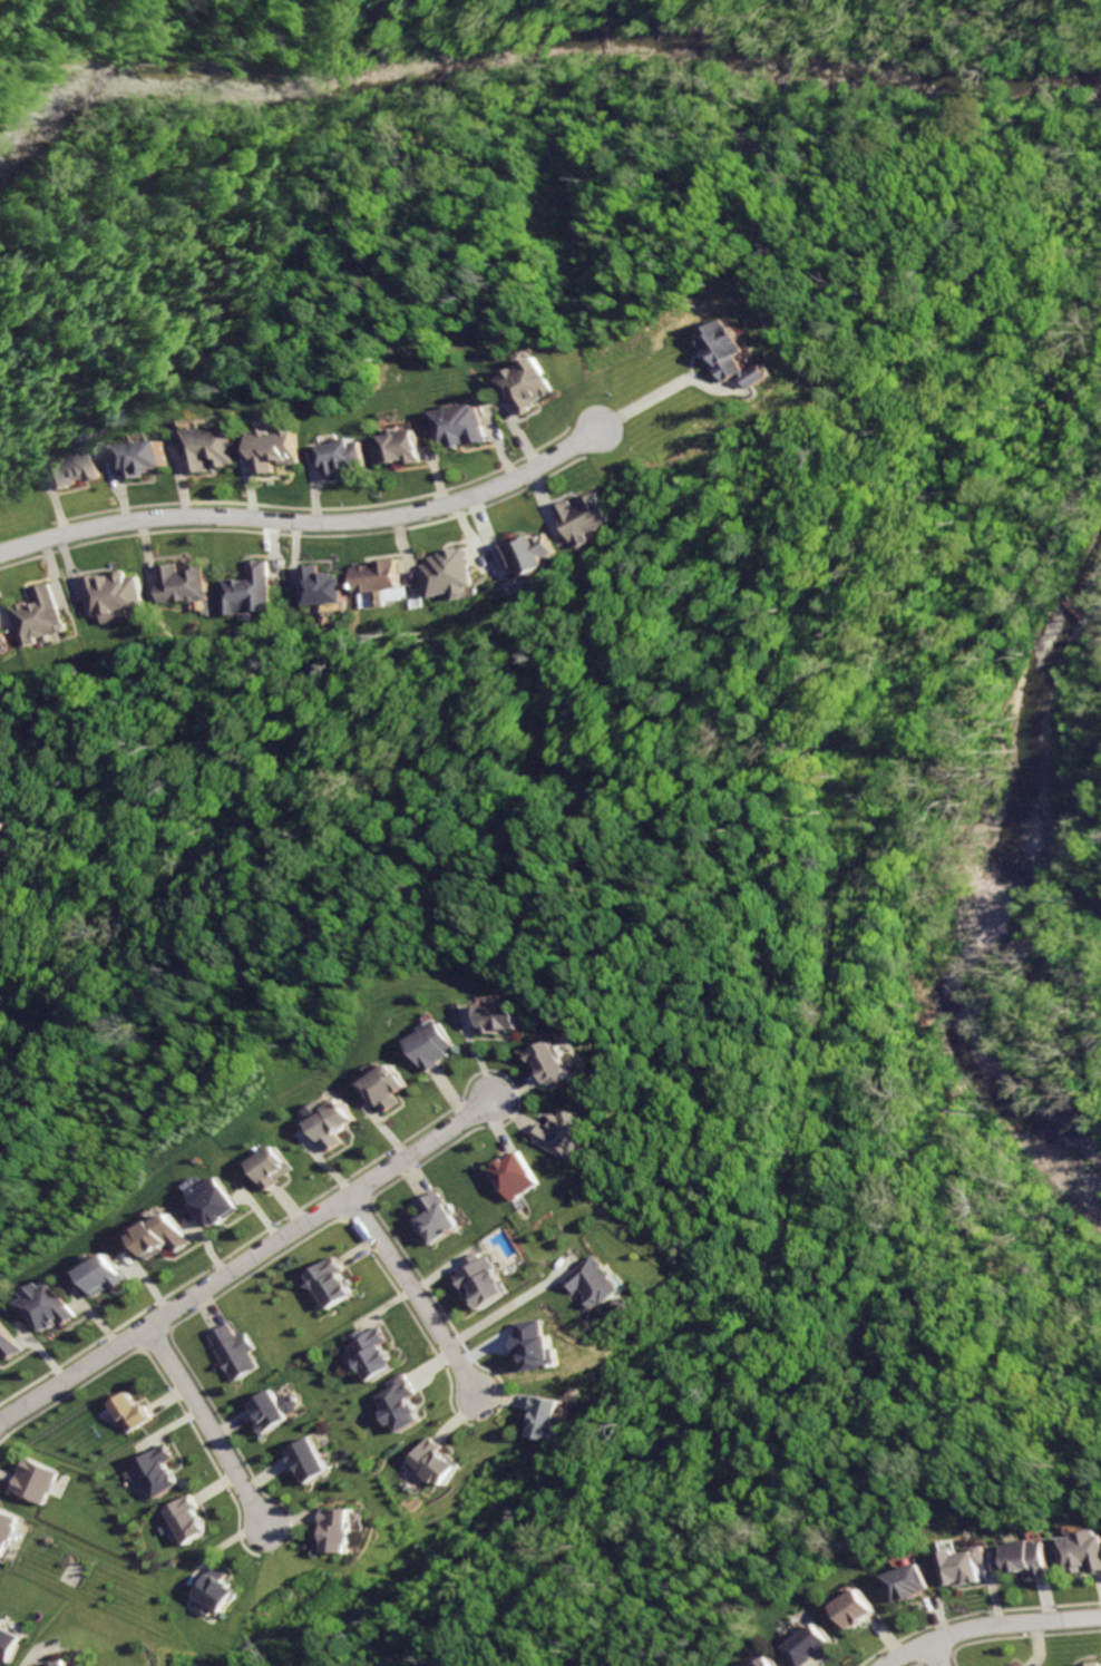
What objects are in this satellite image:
building: (743, 354)
building: (536, 388)
road: (680, 389)
building: (468, 426)
building: (217, 448)
building: (406, 448)
building: (282, 452)
building: (149, 457)
building: (347, 459)
building: (84, 464)
building: (587, 517)
road: (311, 523)
building: (532, 549)
building: (449, 573)
building: (384, 576)
building: (183, 582)
building: (330, 585)
building: (249, 590)
building: (117, 594)
building: (38, 615)
building: (2, 636)
road: (1099, 686)
building: (7, 829)
road: (1094, 838)
building: (511, 1017)
building: (438, 1045)
building: (556, 1061)
building: (390, 1087)
building: (333, 1121)
building: (566, 1134)
building: (273, 1167)
building: (514, 1175)
building: (215, 1200)
building: (430, 1218)
building: (163, 1235)
road: (246, 1257)
building: (107, 1275)
building: (476, 1279)
building: (325, 1282)
building: (594, 1282)
road: (408, 1296)
road: (506, 1302)
building: (49, 1305)
building: (8, 1341)
building: (530, 1344)
building: (230, 1352)
building: (364, 1353)
building: (396, 1403)
building: (264, 1410)
building: (124, 1412)
building: (544, 1415)
road: (206, 1429)
building: (309, 1460)
building: (435, 1461)
building: (157, 1470)
building: (28, 1480)
building: (191, 1519)
building: (4, 1527)
building: (342, 1528)
building: (1084, 1550)
building: (1034, 1556)
building: (970, 1565)
building: (913, 1581)
building: (224, 1589)
building: (859, 1607)
road: (986, 1625)
building: (11, 1643)
building: (812, 1644)
road: (932, 1654)
building: (769, 1662)
building: (67, 1663)
building: (1089, 1663)
building: (1016, 1665)

